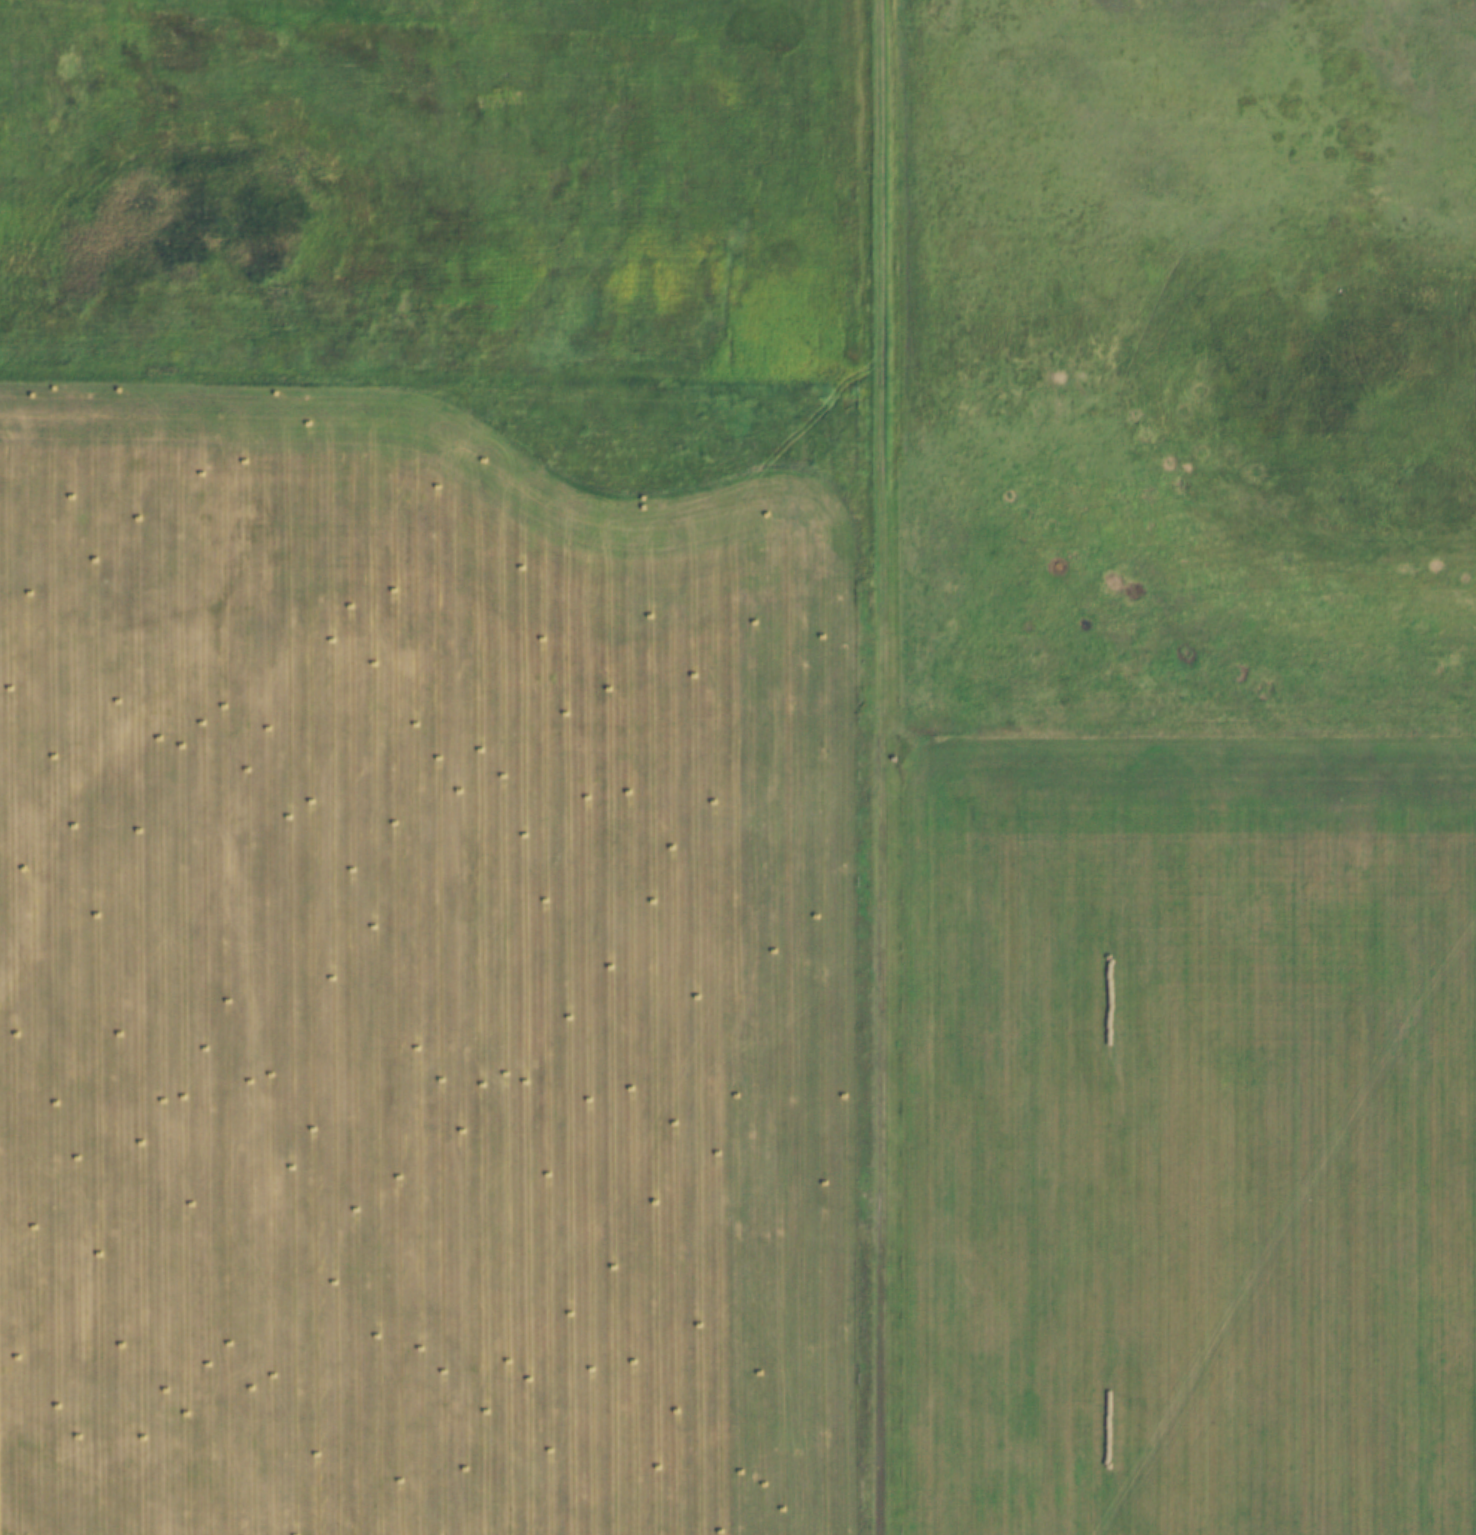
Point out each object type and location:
road: (877, 767)

